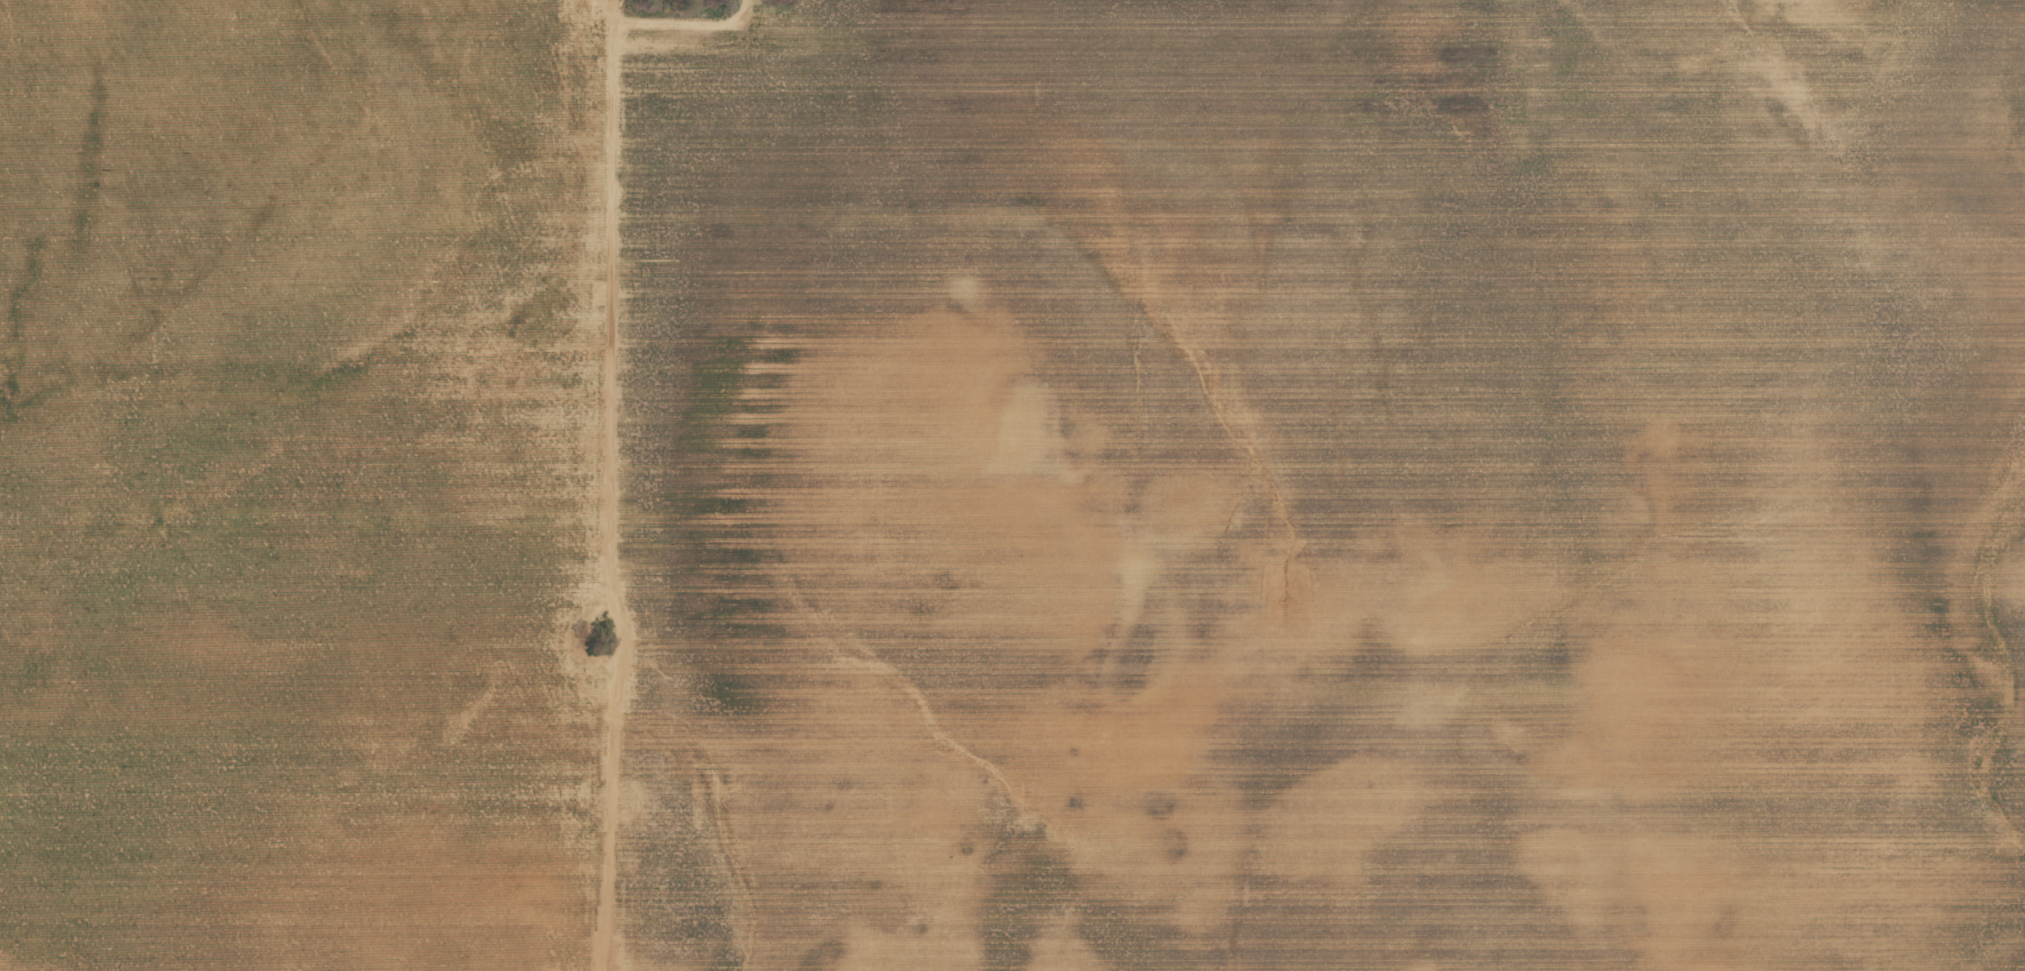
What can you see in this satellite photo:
road: (616, 485)

